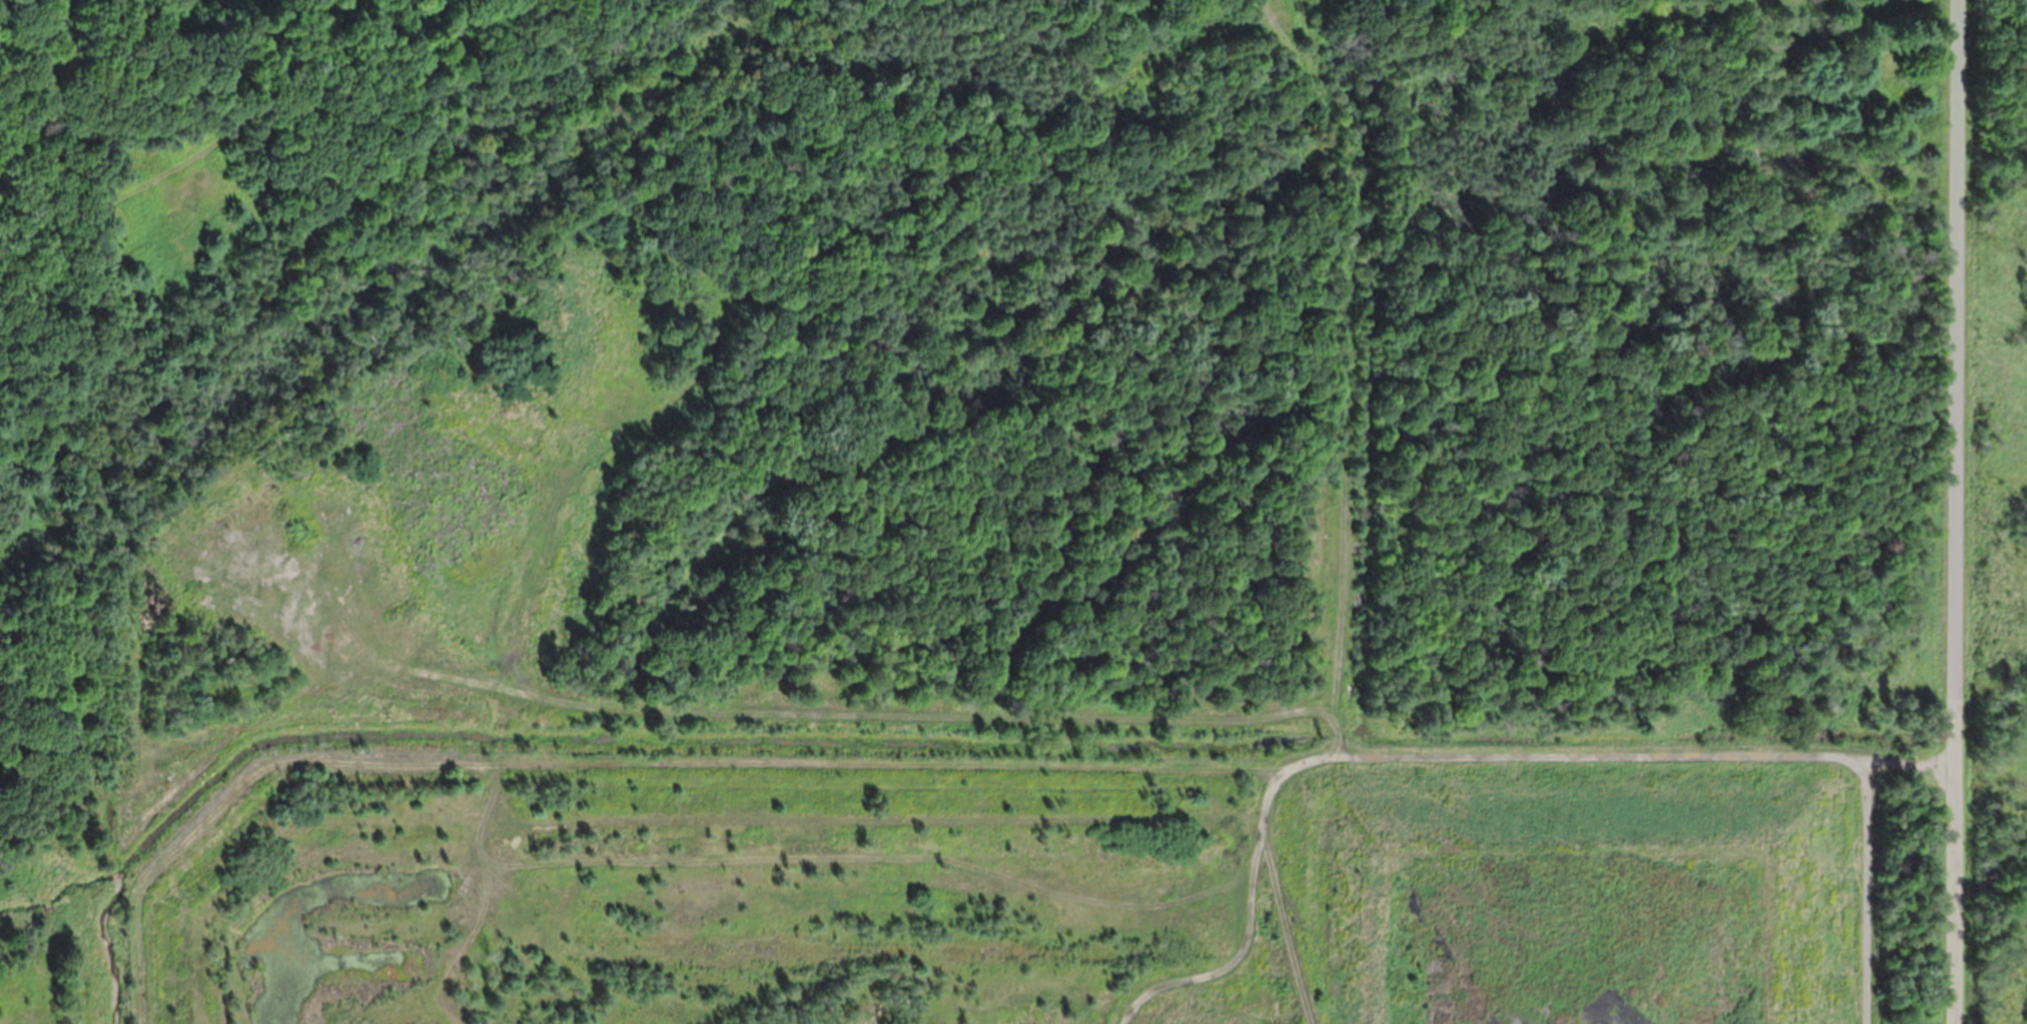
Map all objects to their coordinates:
road: (1955, 512)

